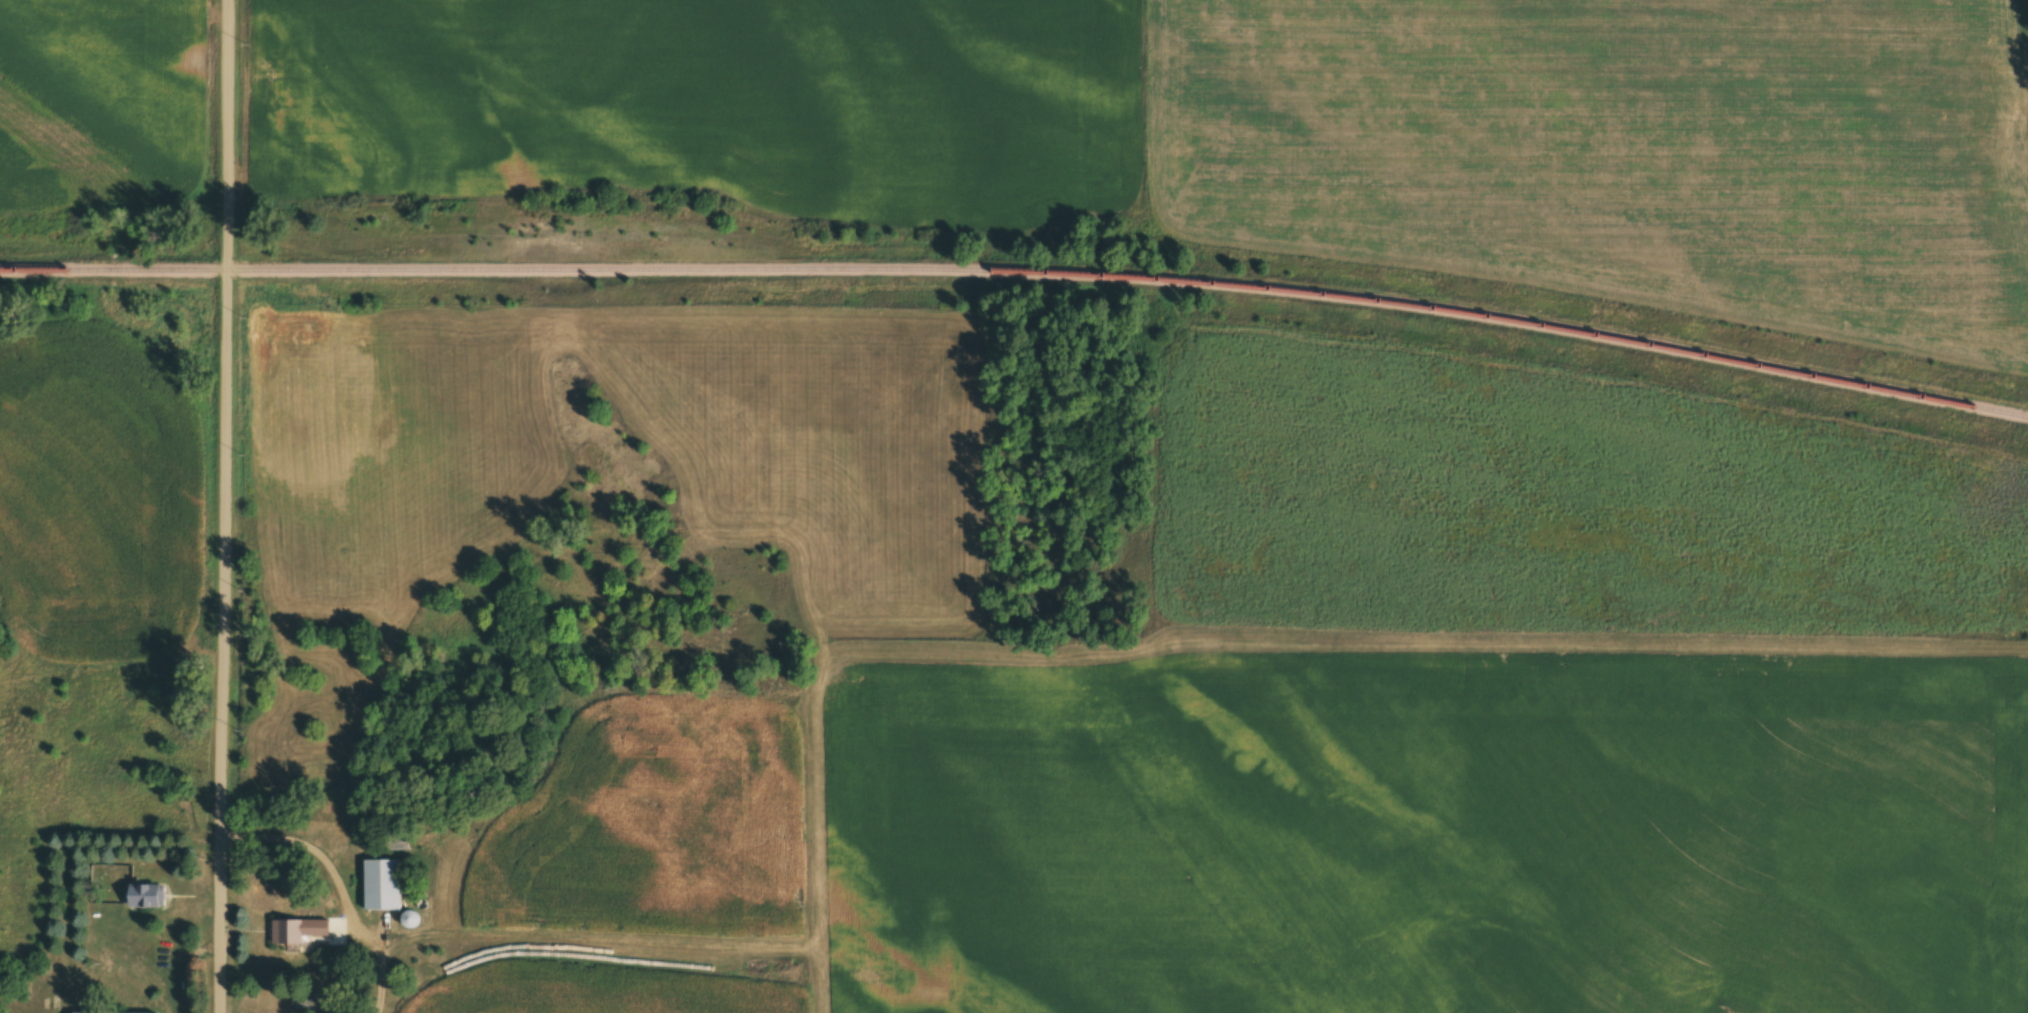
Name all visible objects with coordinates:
railway: (1019, 271)
road: (224, 506)
building: (381, 884)
building: (143, 895)
building: (296, 930)
building: (303, 1002)

